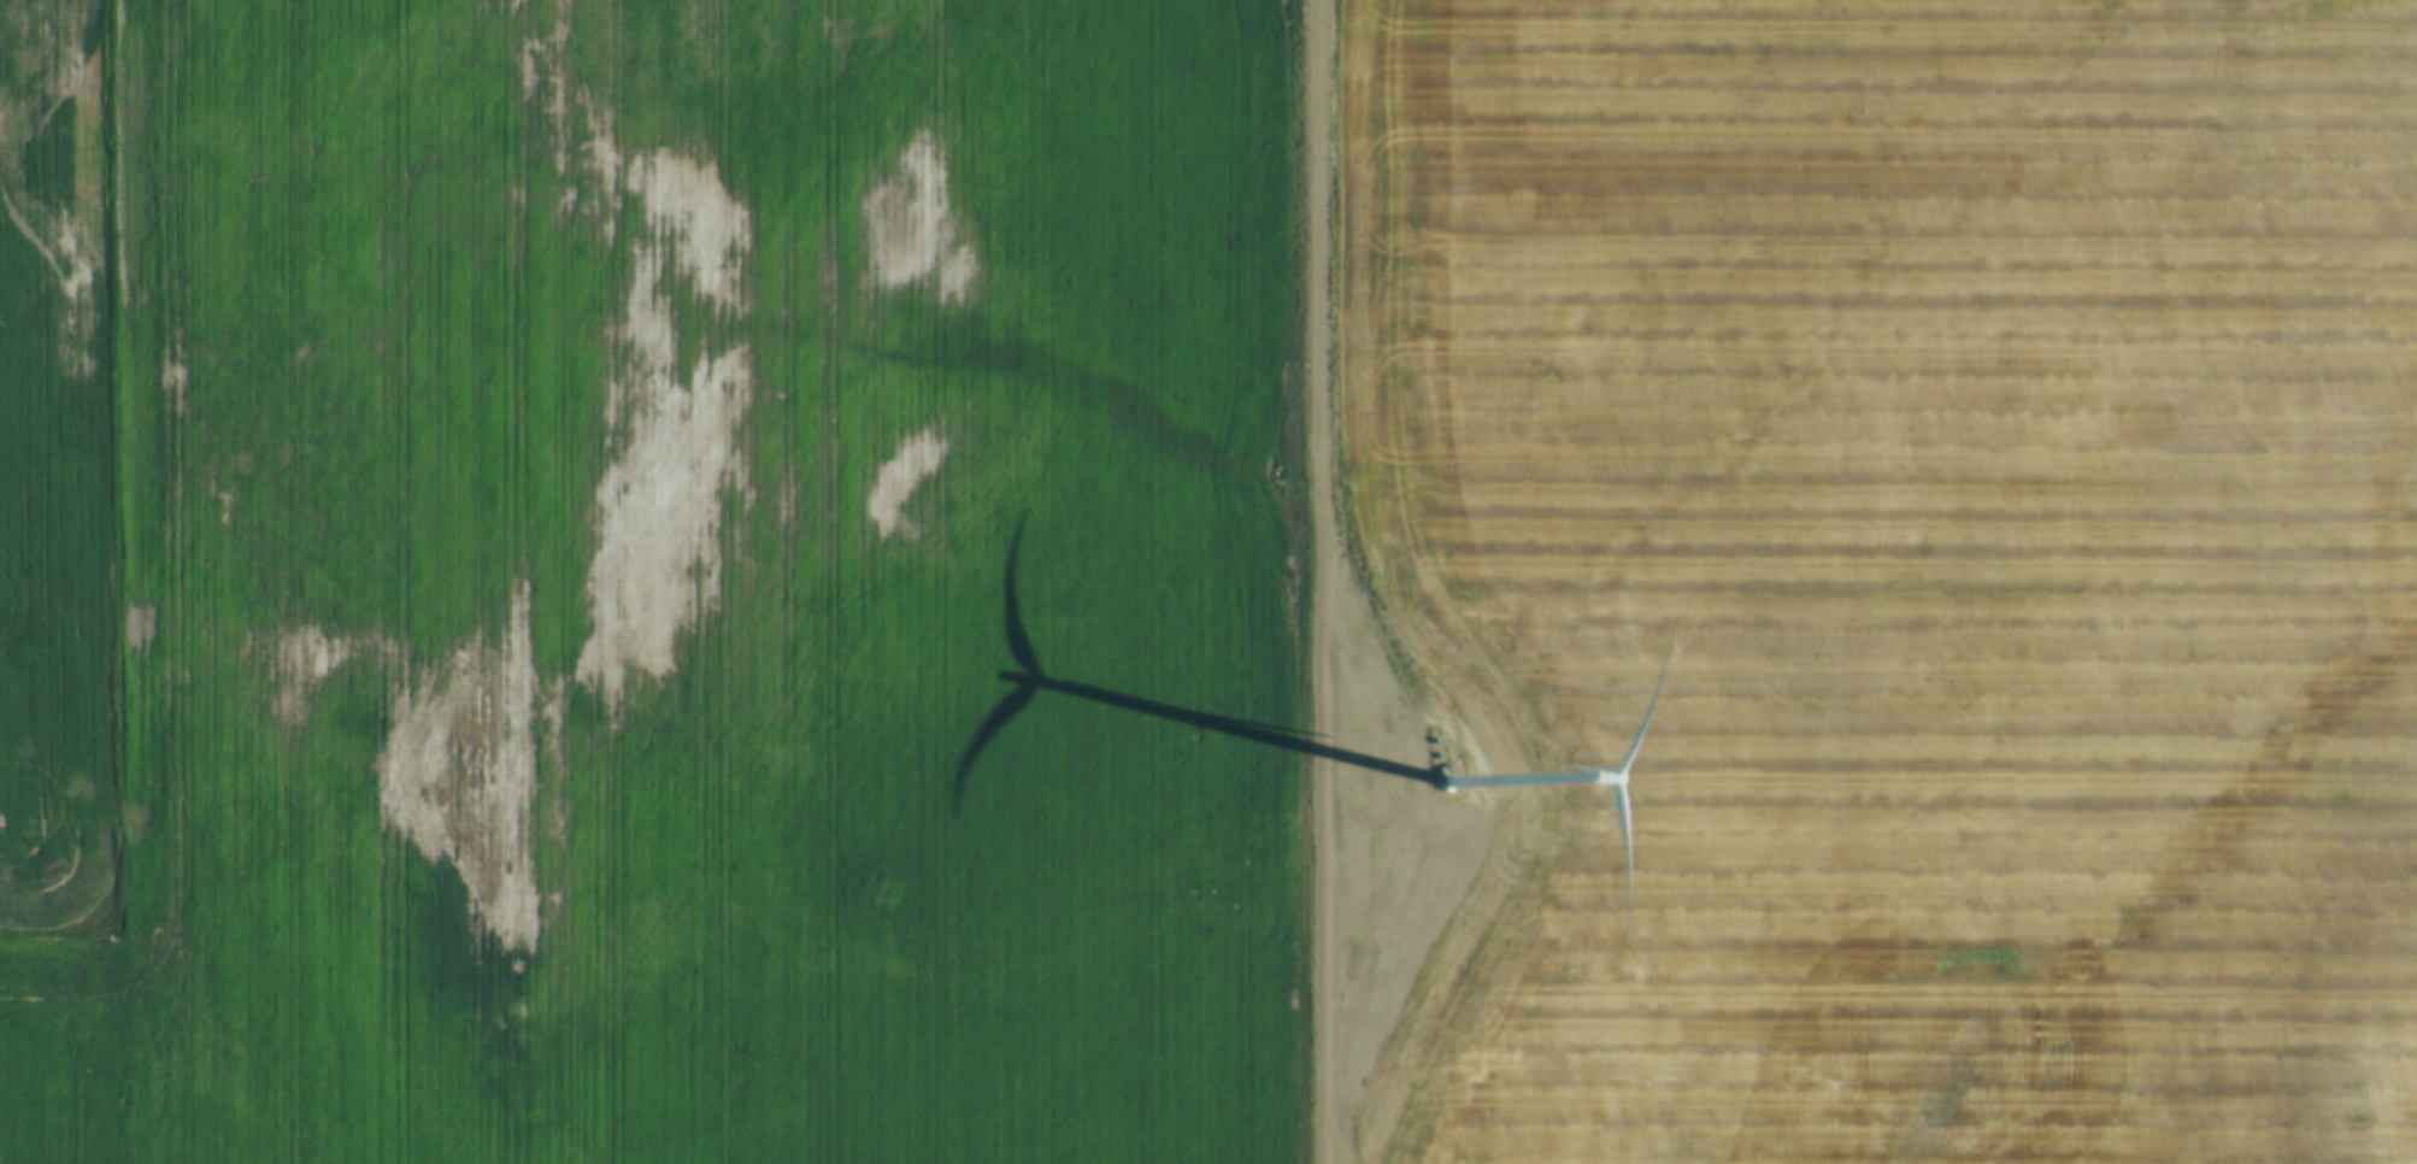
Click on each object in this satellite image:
wind turbine: (1428, 790)

